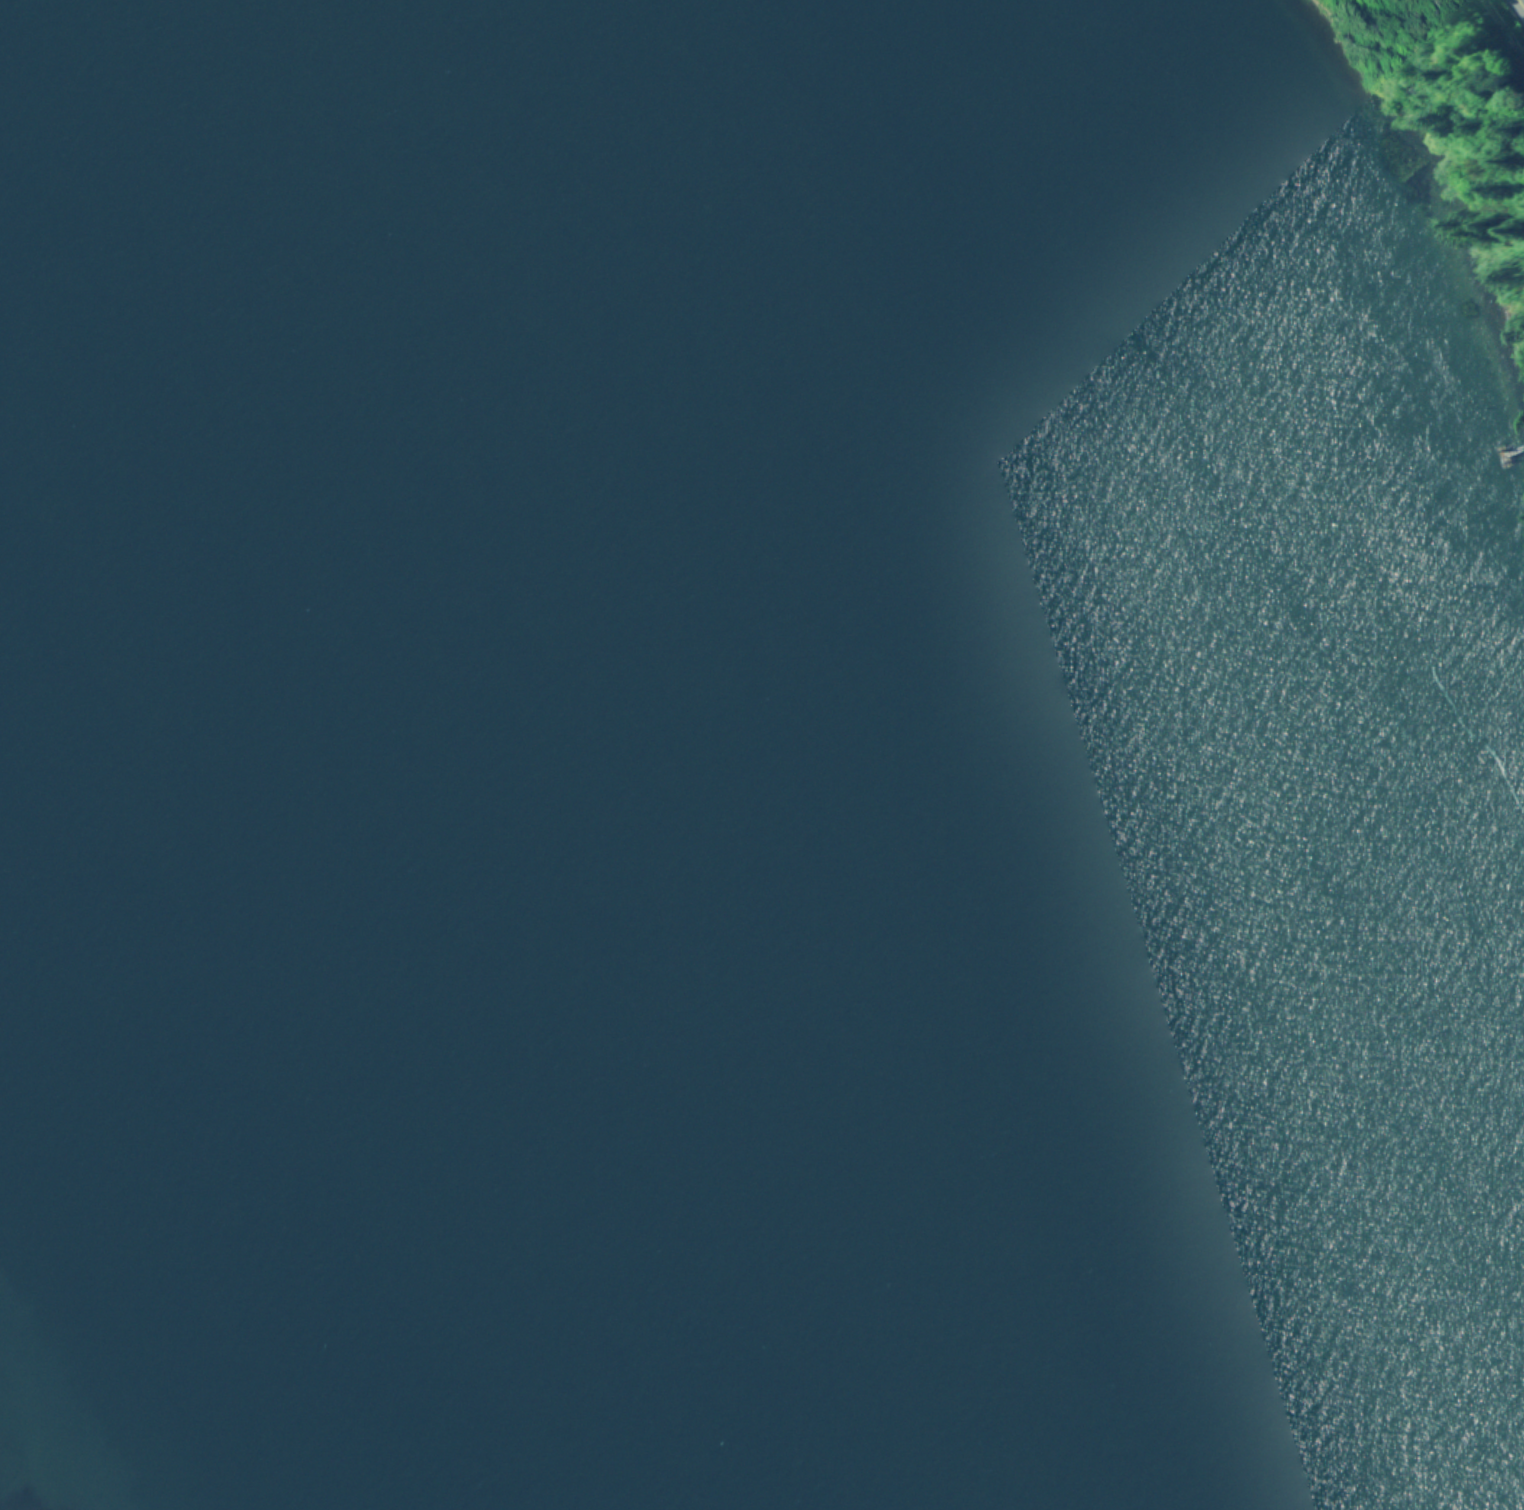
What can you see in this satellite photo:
road: (1518, 7)
river: (599, 836)
river: (197, 1055)

